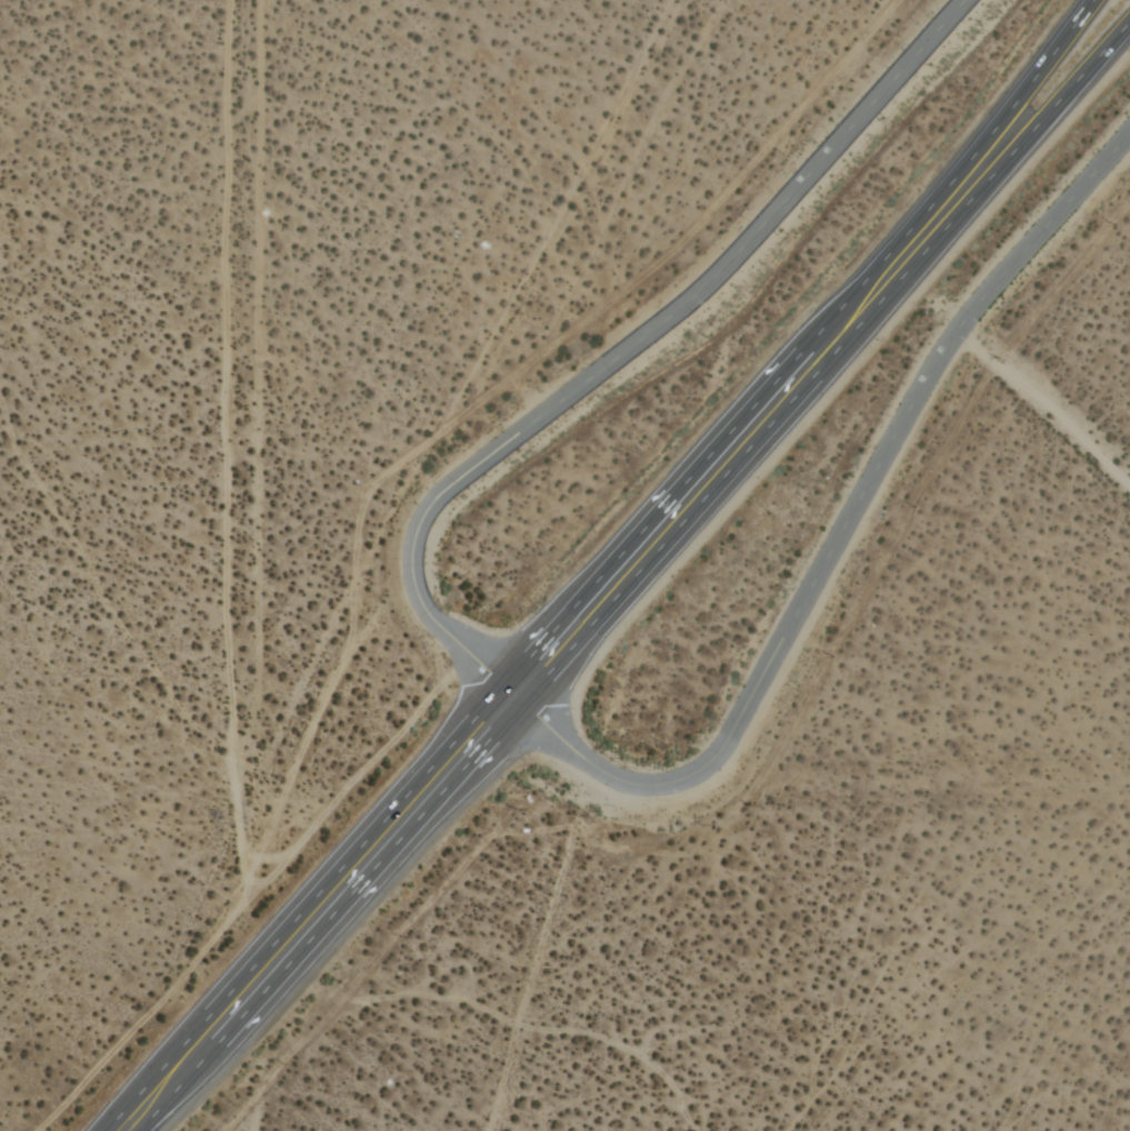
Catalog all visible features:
road: (1059, 42)
road: (634, 346)
road: (830, 372)
road: (226, 382)
road: (768, 389)
road: (1046, 403)
road: (259, 457)
road: (838, 542)
road: (312, 723)
road: (307, 909)
road: (234, 920)
road: (344, 921)
road: (256, 1122)

